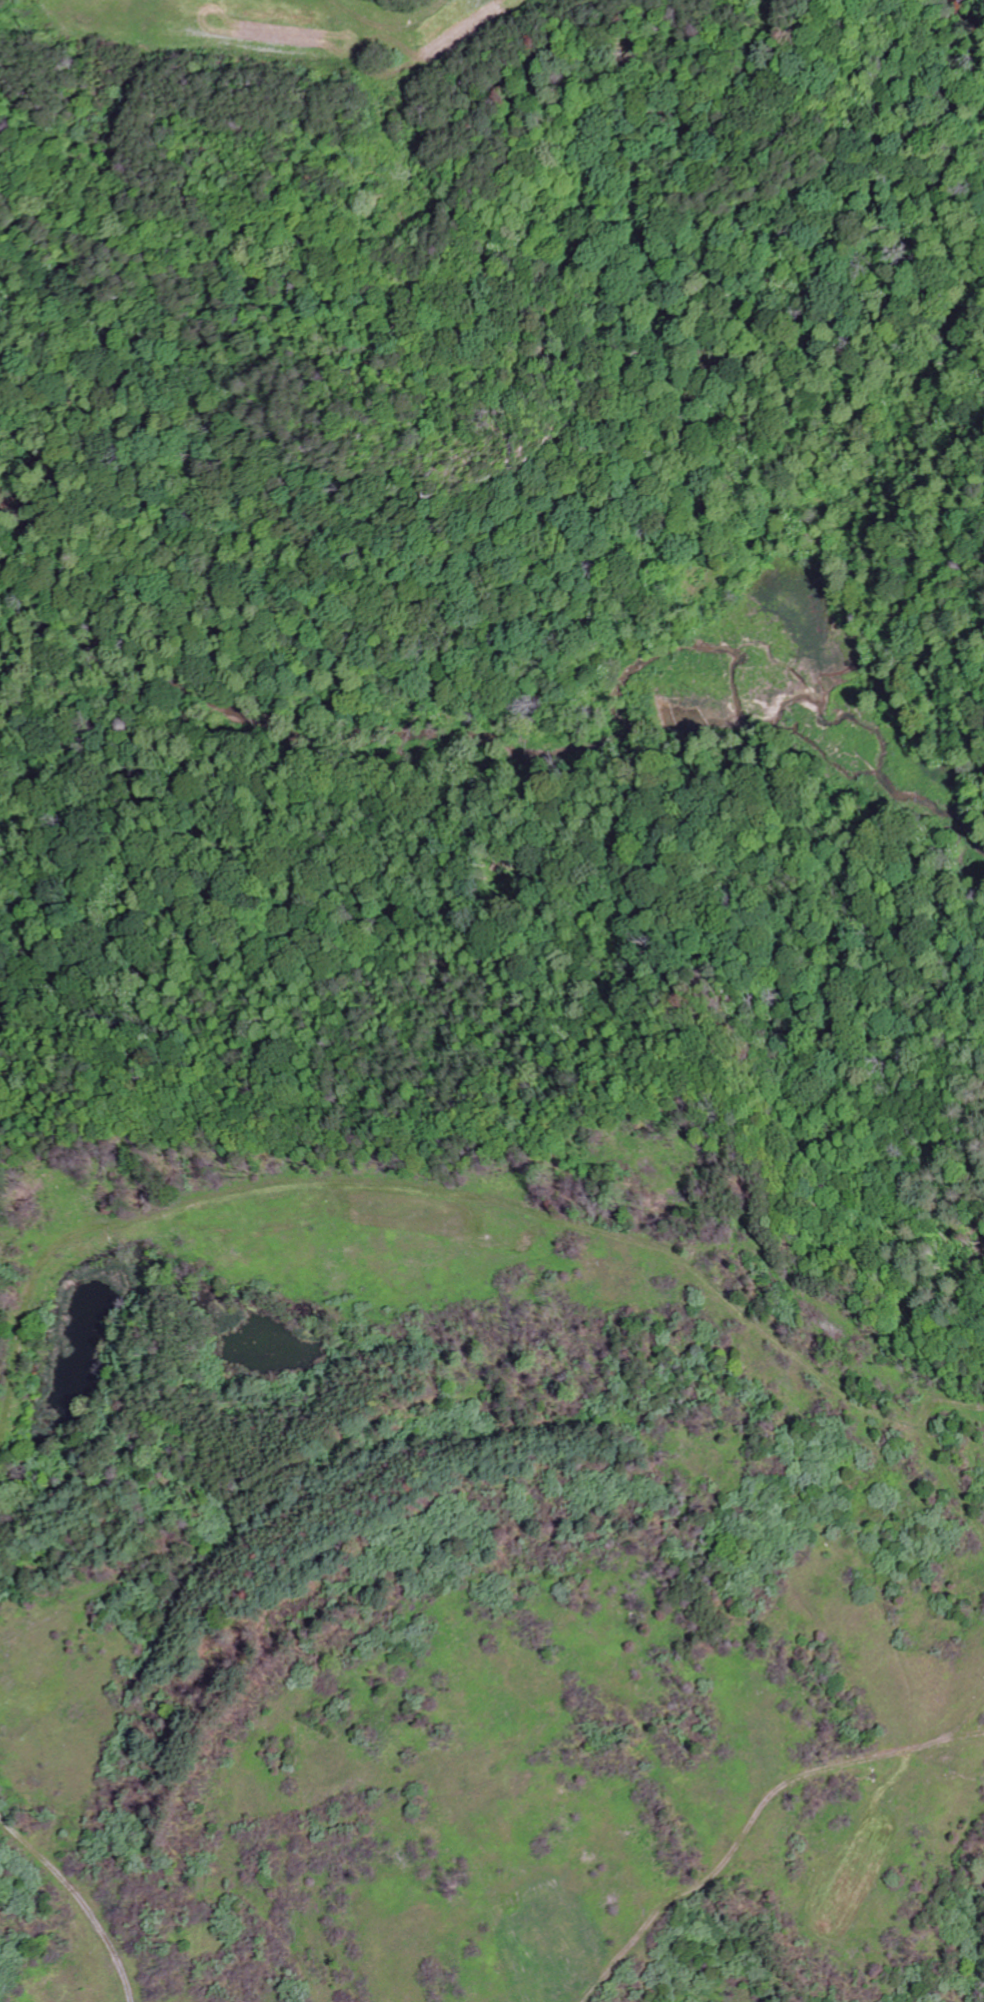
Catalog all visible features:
road: (439, 1188)
road: (934, 1446)
road: (969, 1720)
road: (973, 1737)
road: (753, 1828)
road: (75, 1905)

